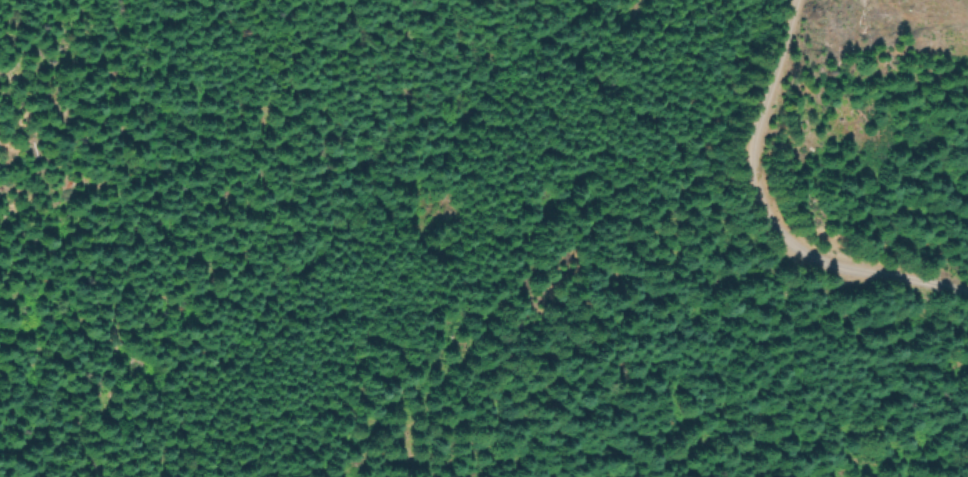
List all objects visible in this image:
road: (763, 218)

